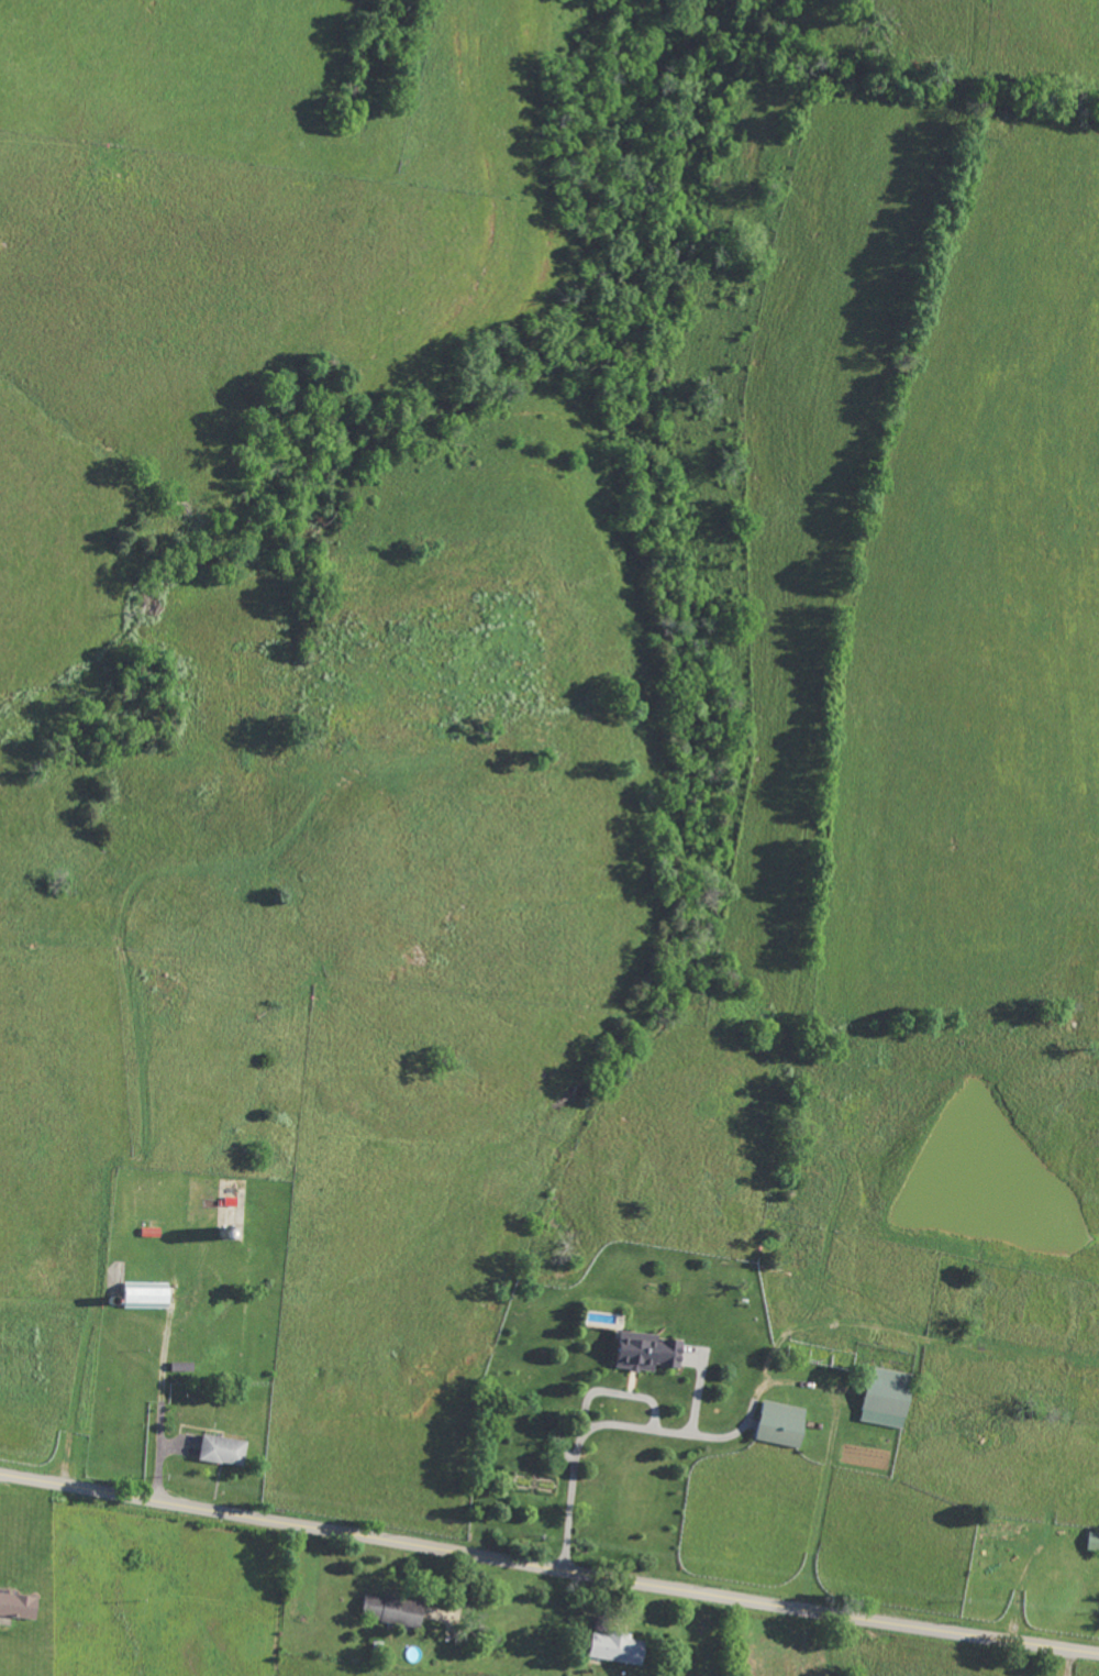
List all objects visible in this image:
building: (149, 1295)
building: (652, 1353)
road: (619, 1393)
road: (699, 1396)
building: (891, 1398)
road: (162, 1407)
building: (785, 1424)
road: (608, 1425)
building: (225, 1451)
building: (1094, 1541)
road: (548, 1566)
building: (20, 1606)
building: (395, 1610)
building: (620, 1649)

